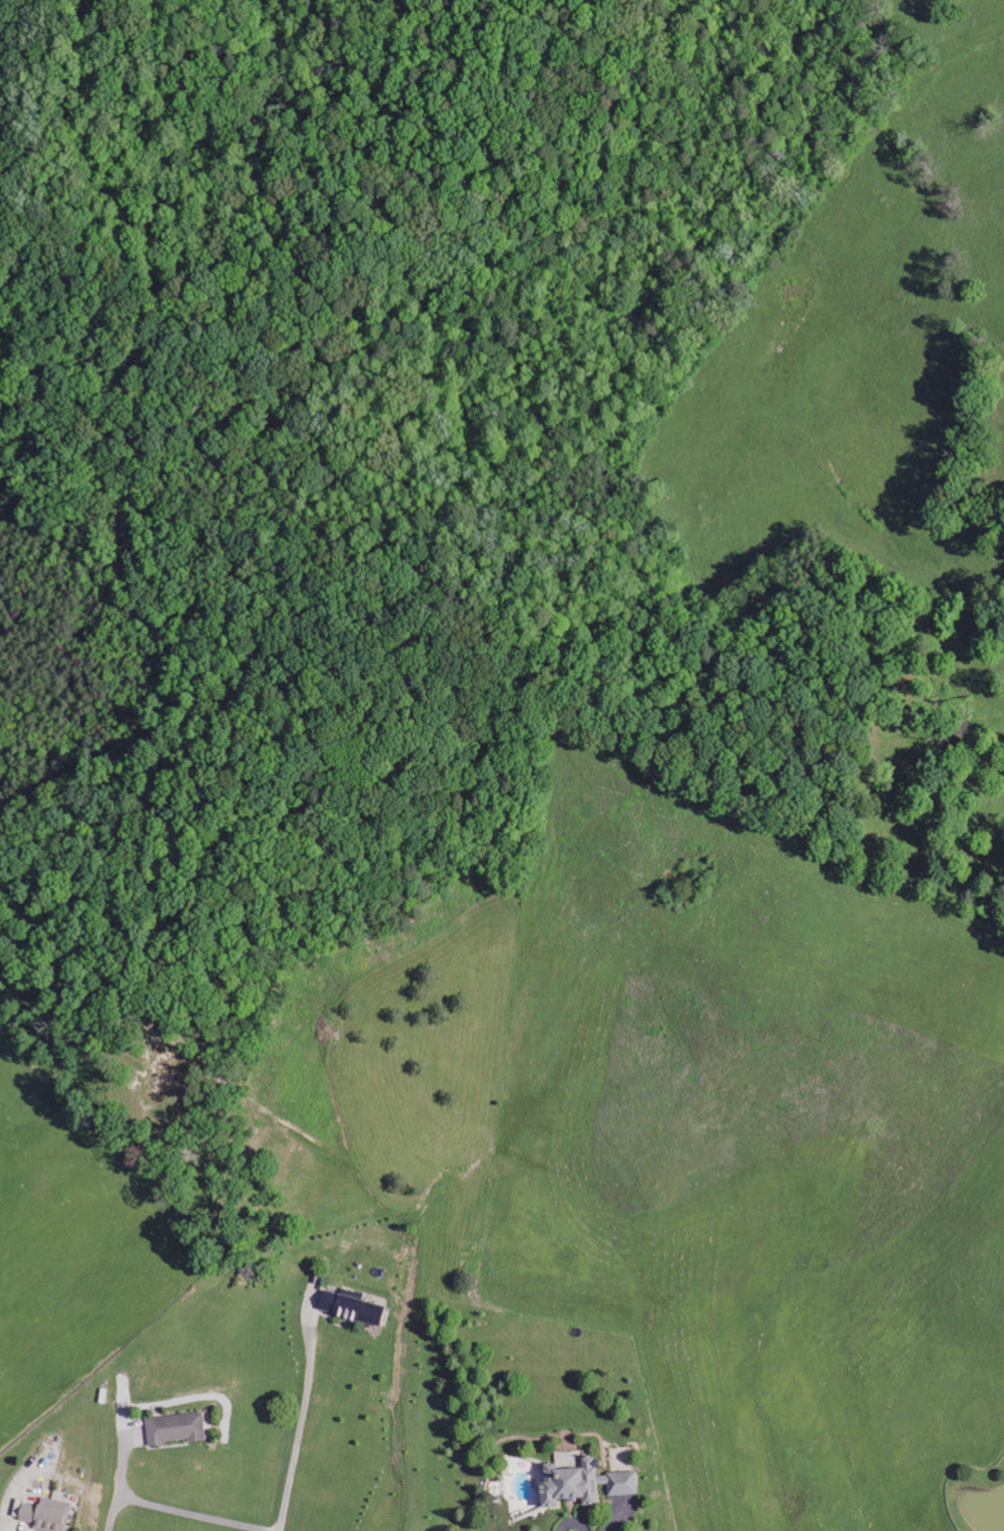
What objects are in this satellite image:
building: (353, 1306)
building: (176, 1428)
building: (585, 1483)
building: (47, 1514)

